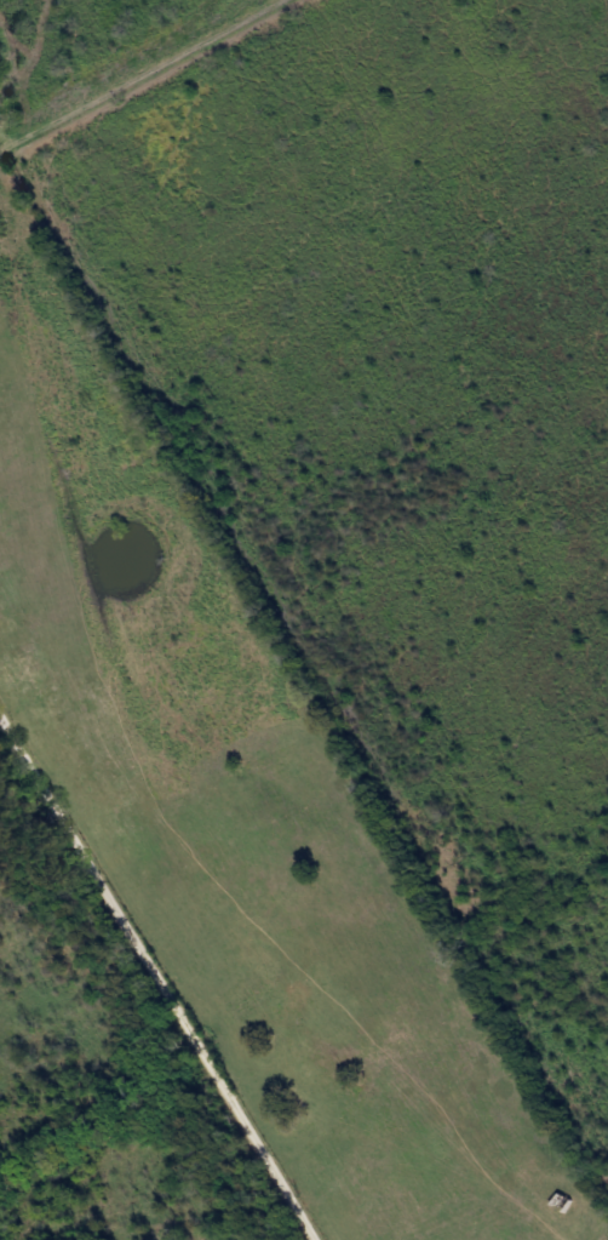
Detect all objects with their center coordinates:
road: (134, 73)
road: (155, 979)
building: (560, 1201)

